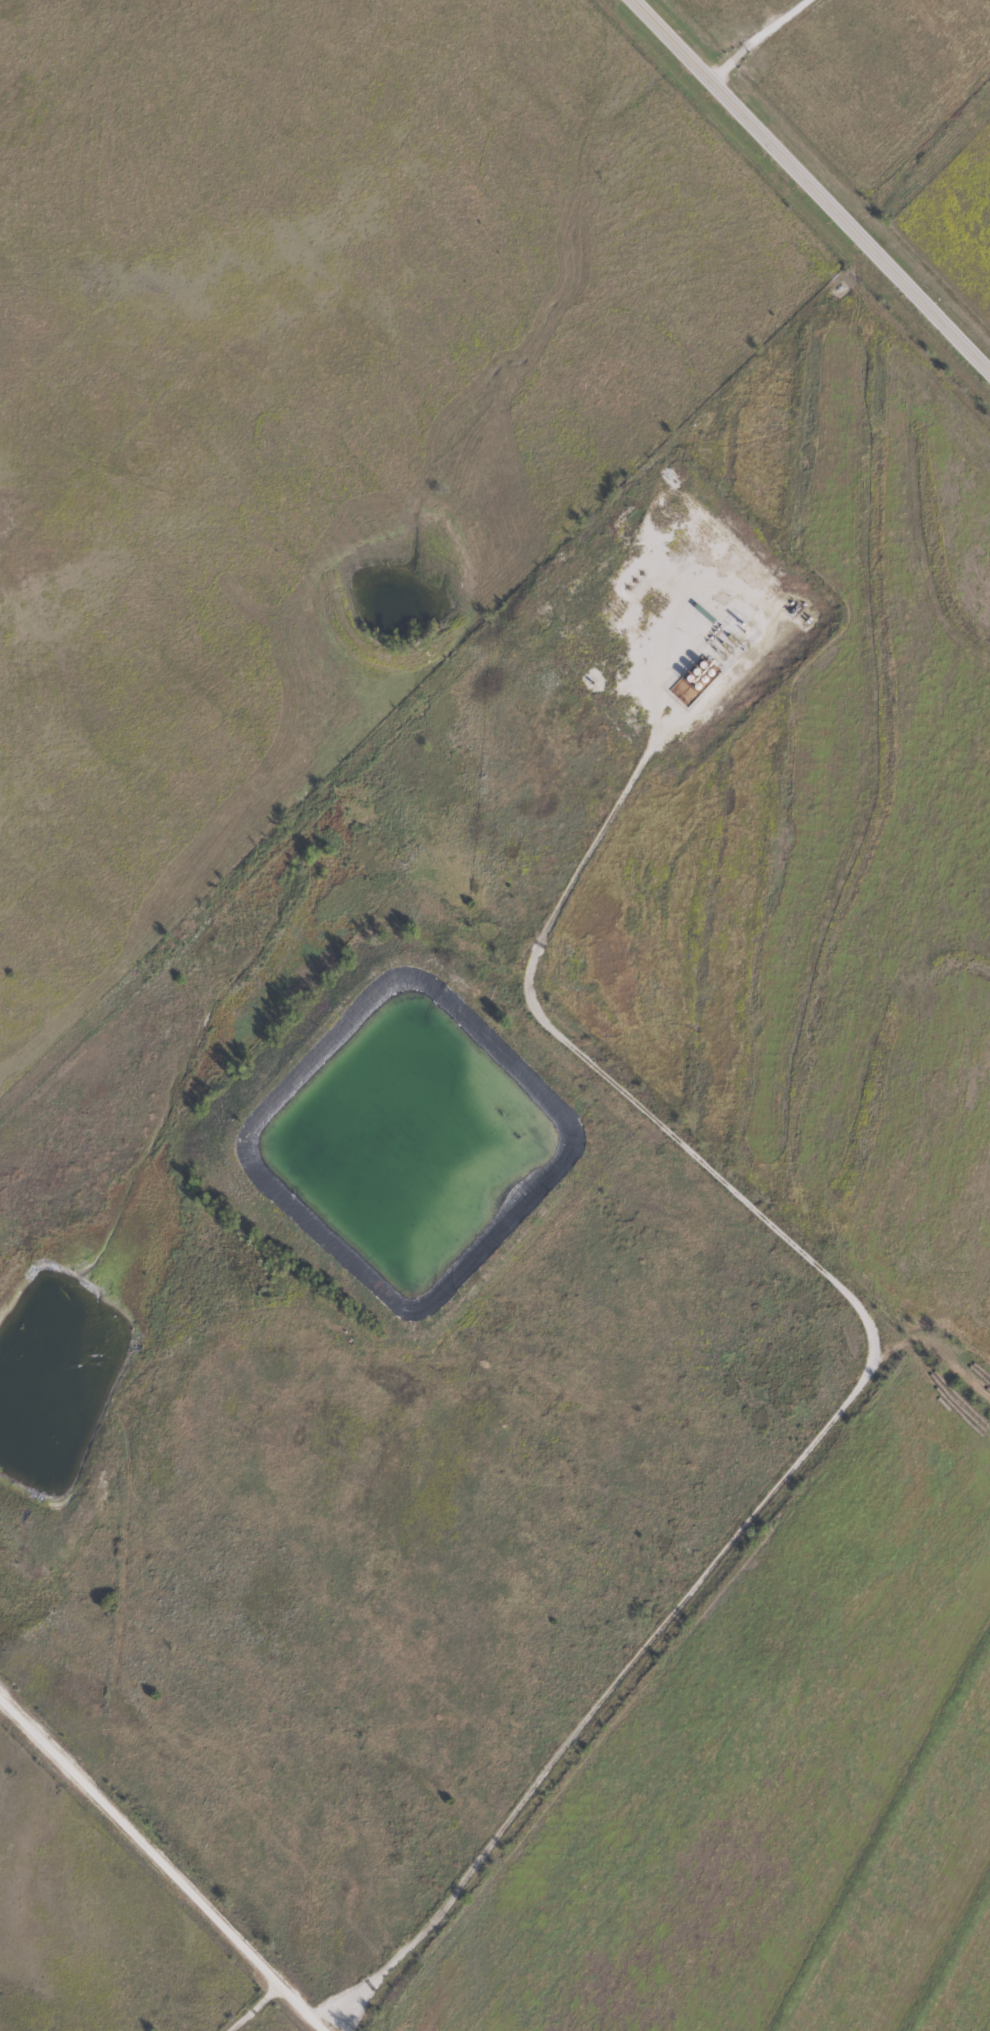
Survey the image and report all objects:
road: (758, 39)
road: (810, 185)
building: (699, 524)
road: (858, 1391)
road: (160, 1851)
road: (257, 2009)

